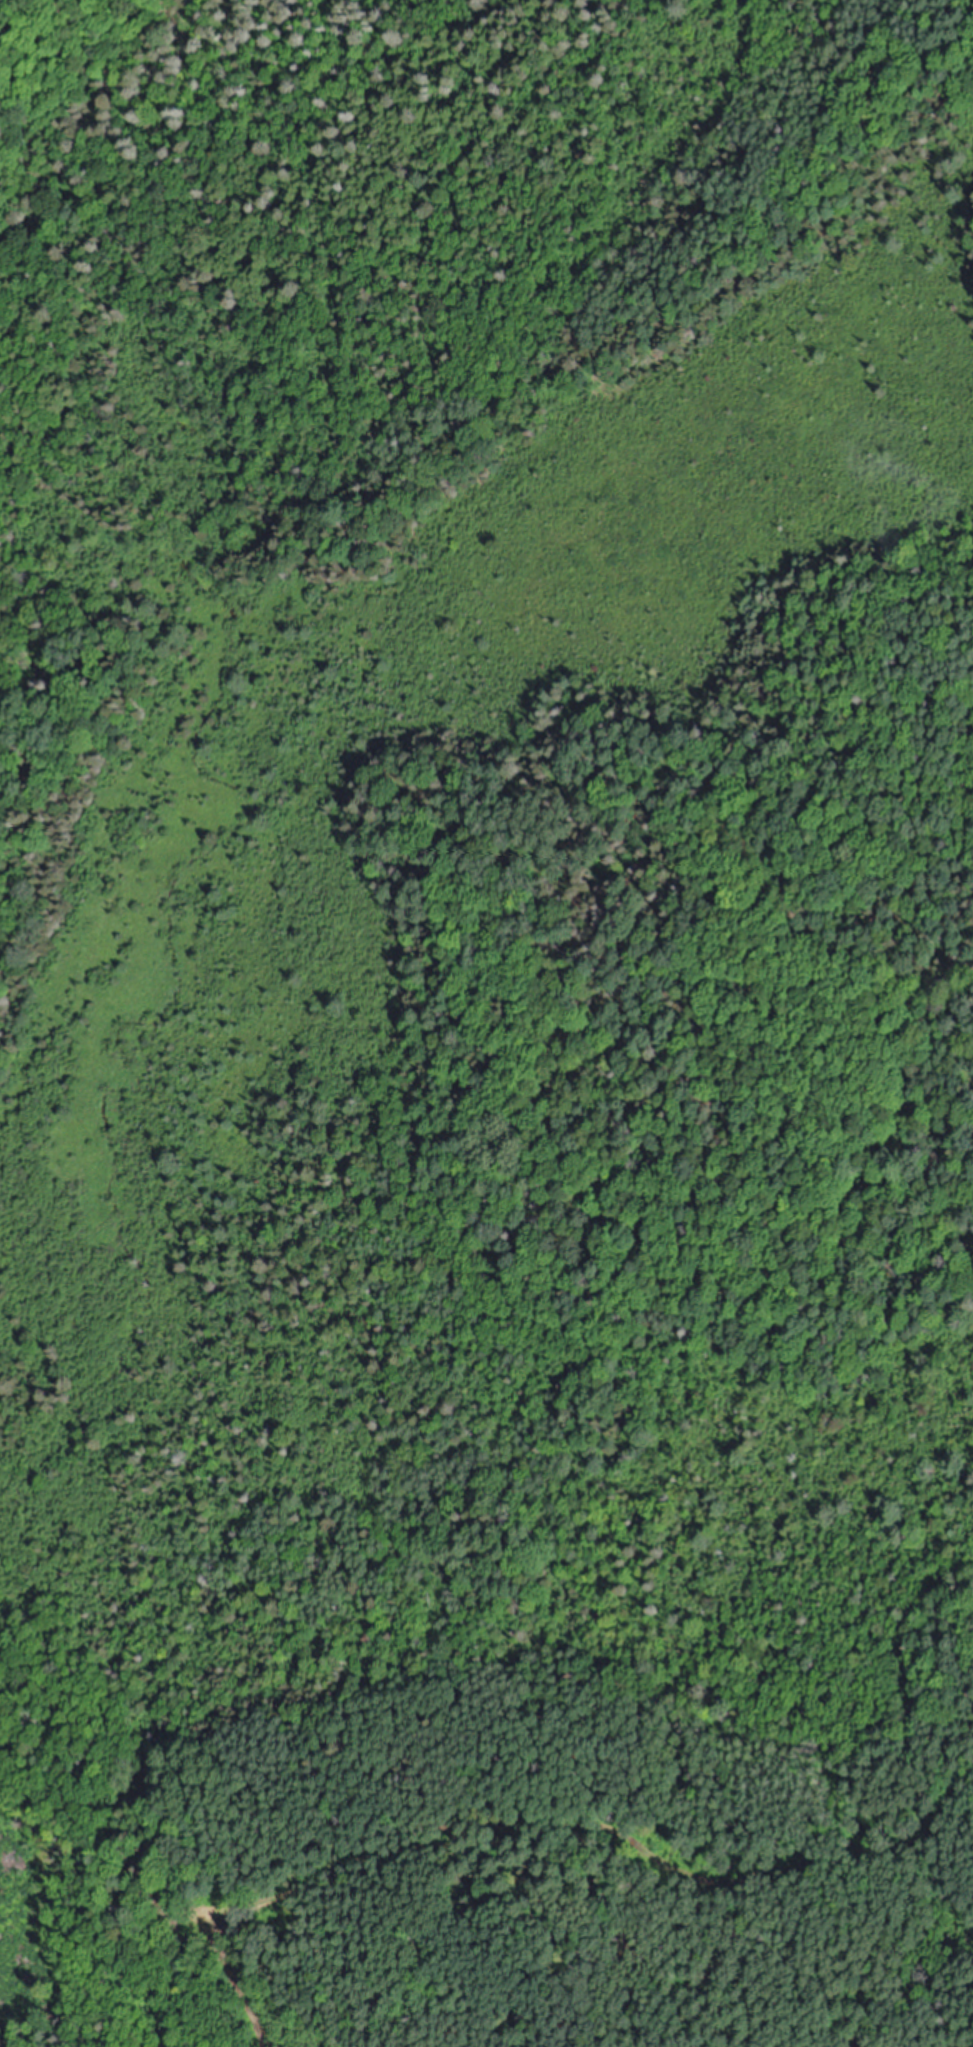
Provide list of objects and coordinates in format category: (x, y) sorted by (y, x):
road: (547, 1830)

